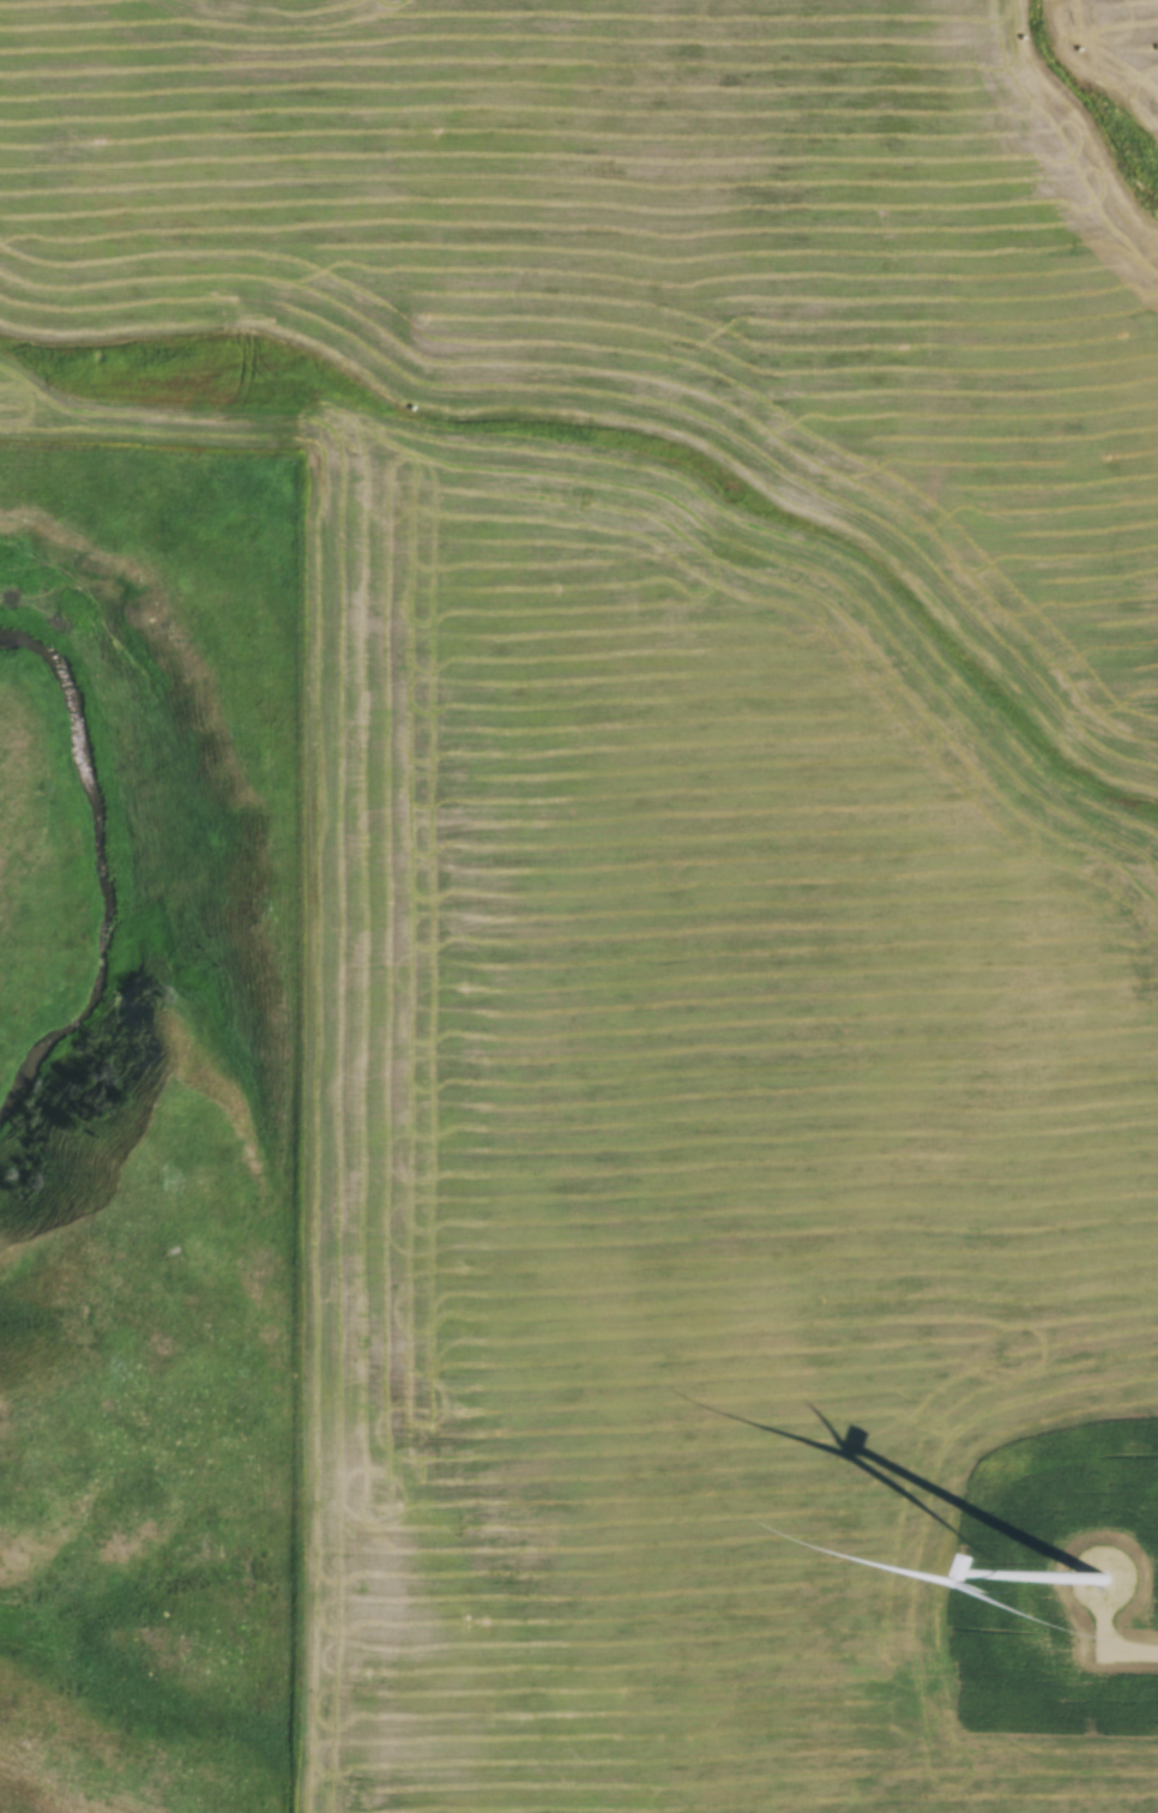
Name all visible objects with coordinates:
wind turbine: (1104, 1592)

